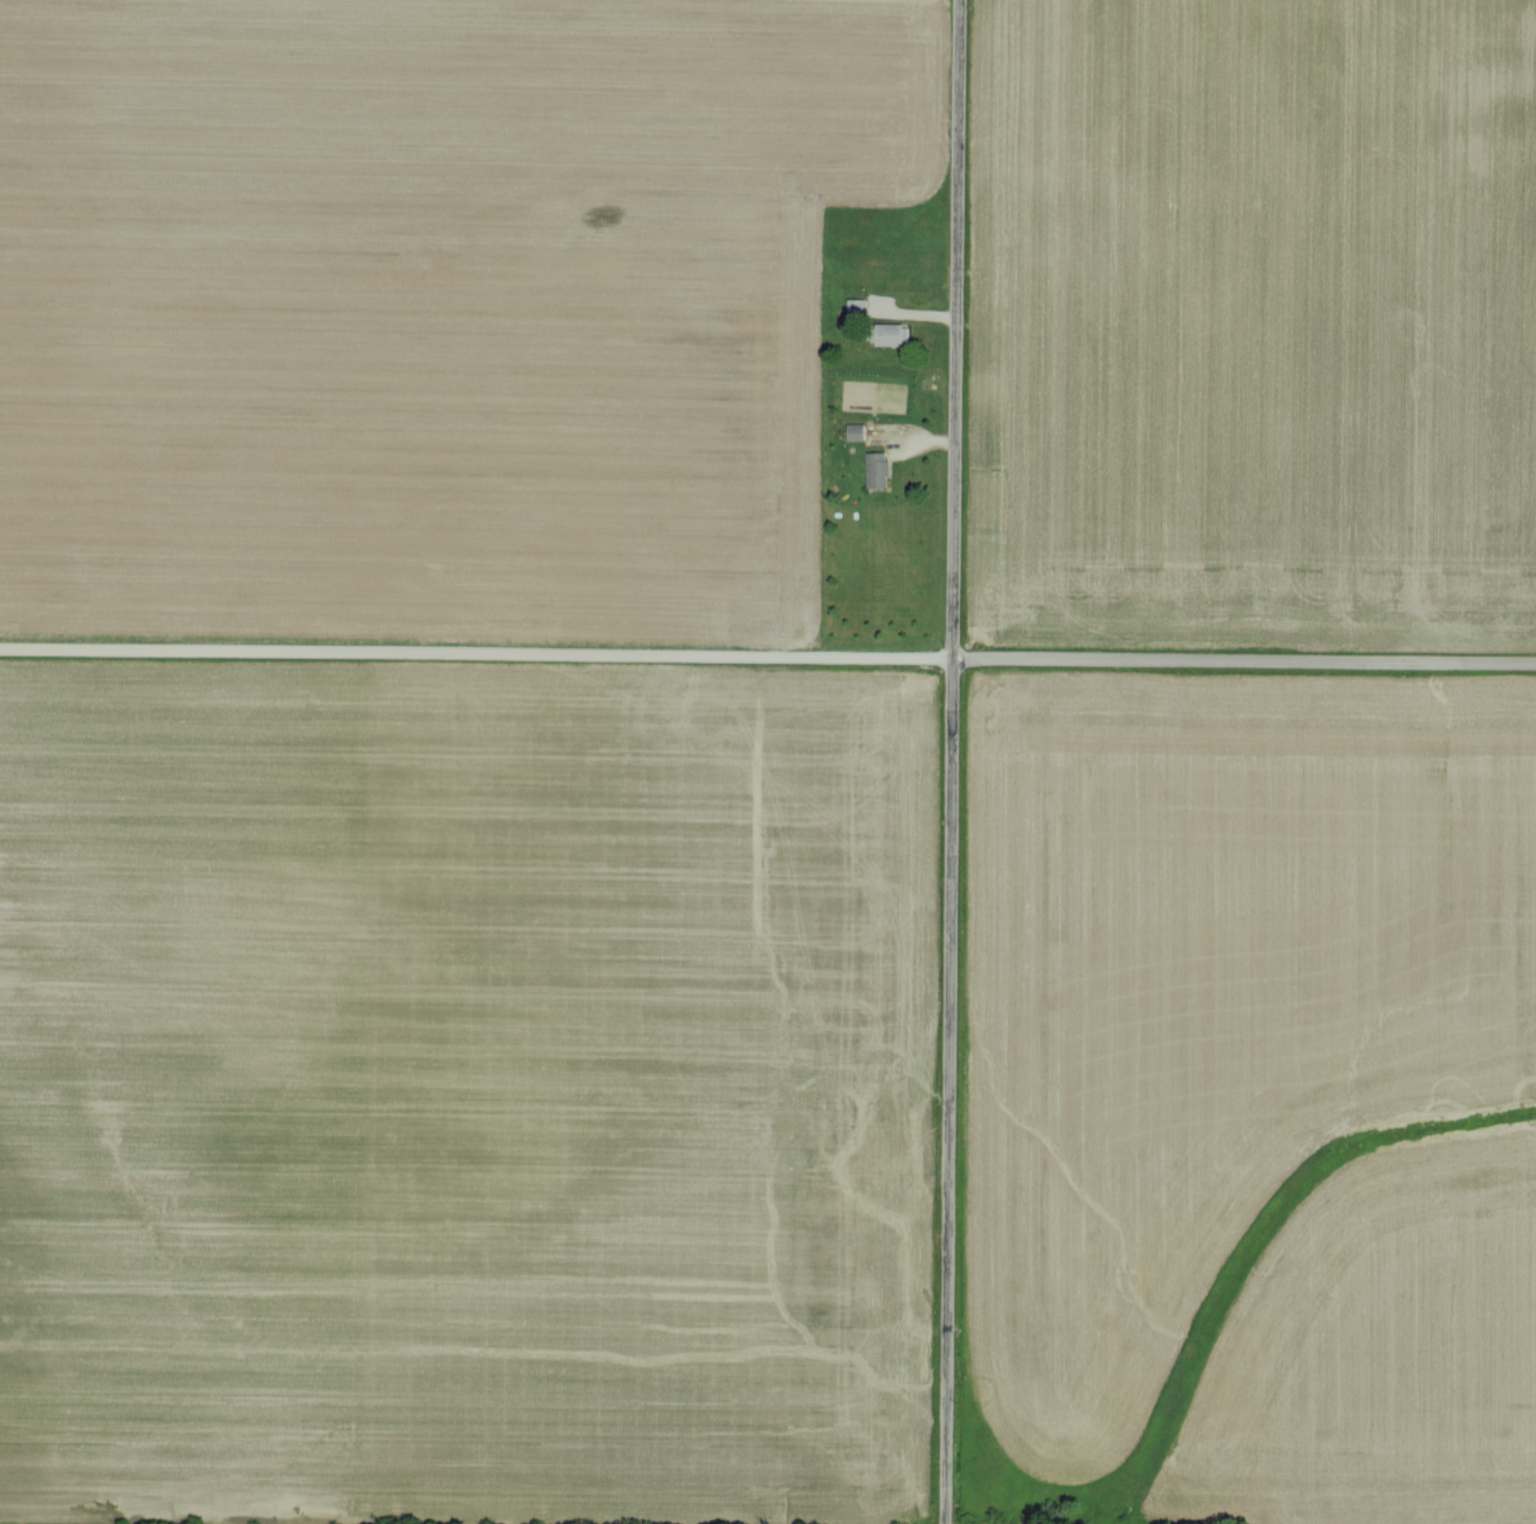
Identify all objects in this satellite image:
road: (956, 326)
road: (475, 651)
road: (1243, 656)
road: (951, 1088)

